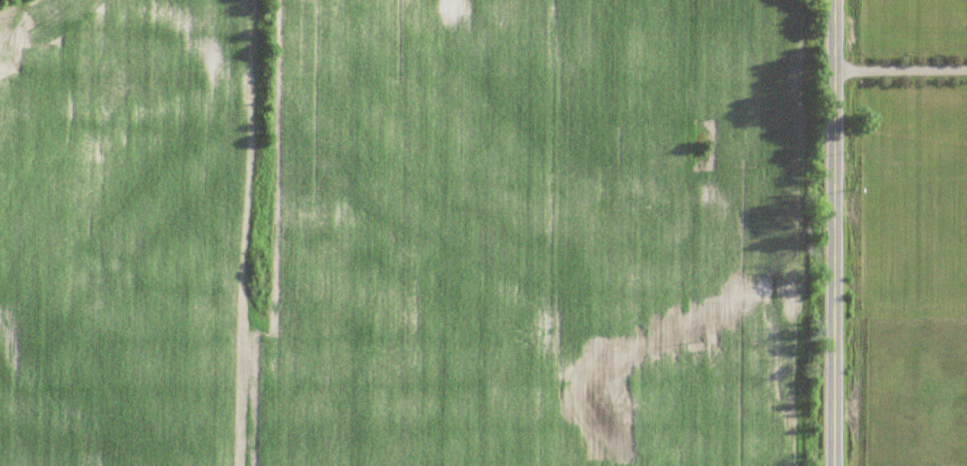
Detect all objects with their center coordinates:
road: (900, 69)
crop: (404, 232)
road: (834, 233)

